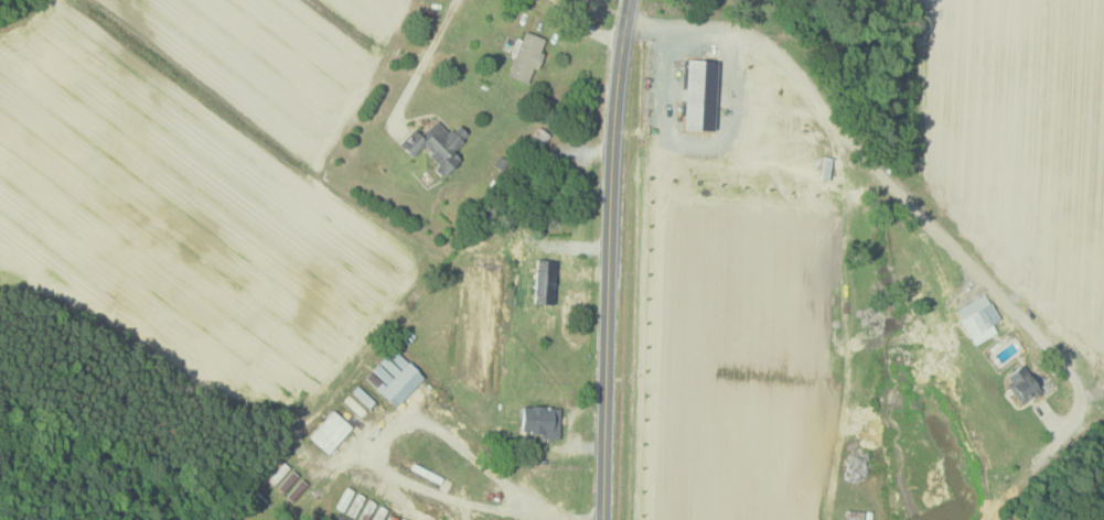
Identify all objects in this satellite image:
road: (585, 26)
building: (528, 56)
road: (422, 62)
building: (439, 143)
road: (890, 177)
road: (607, 259)
building: (979, 318)
building: (397, 378)
building: (1023, 383)
building: (543, 421)
building: (331, 432)
road: (385, 441)
building: (292, 486)
road: (547, 512)

